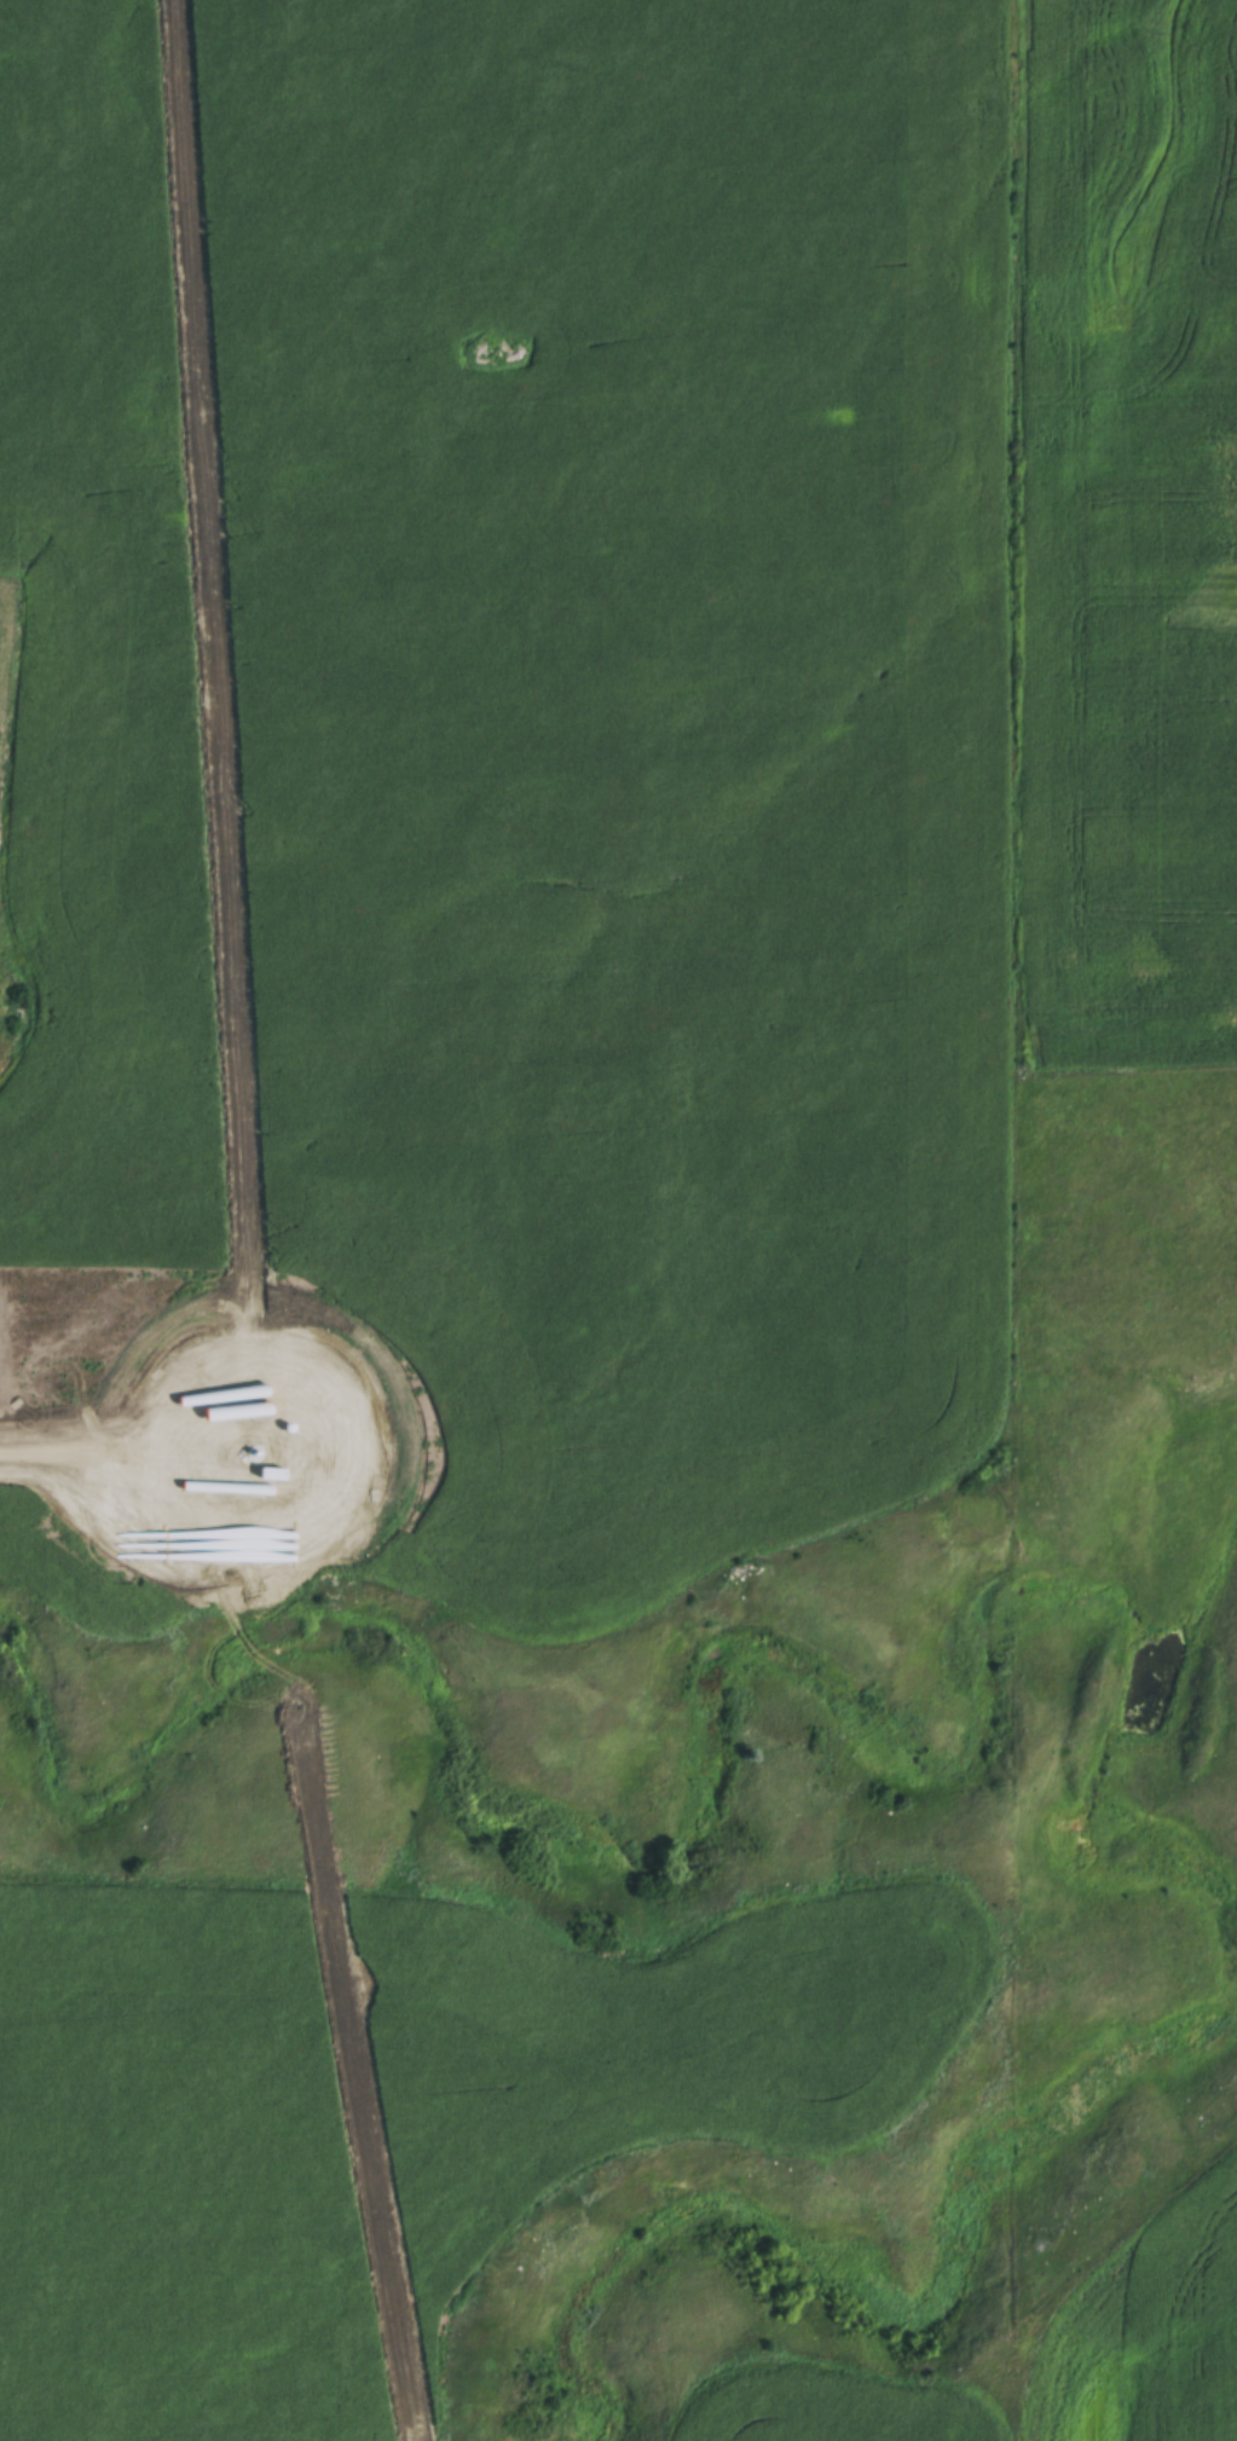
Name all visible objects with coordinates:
wind turbine: (239, 1447)
river: (1172, 1655)
river: (1145, 1658)
river: (1150, 1717)

